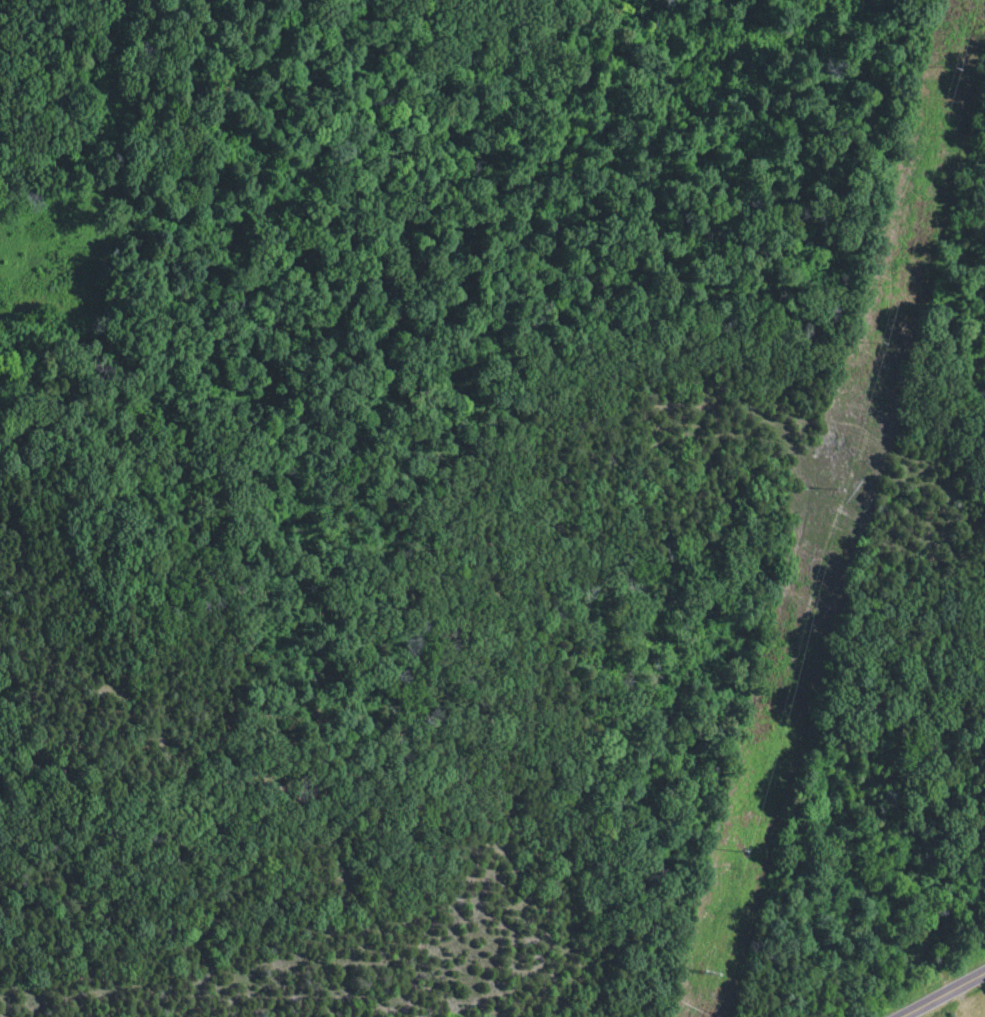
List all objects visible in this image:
power tower: (949, 69)
power tower: (874, 340)
power tower: (837, 489)
power tower: (738, 851)
power tower: (708, 971)
road: (948, 997)

